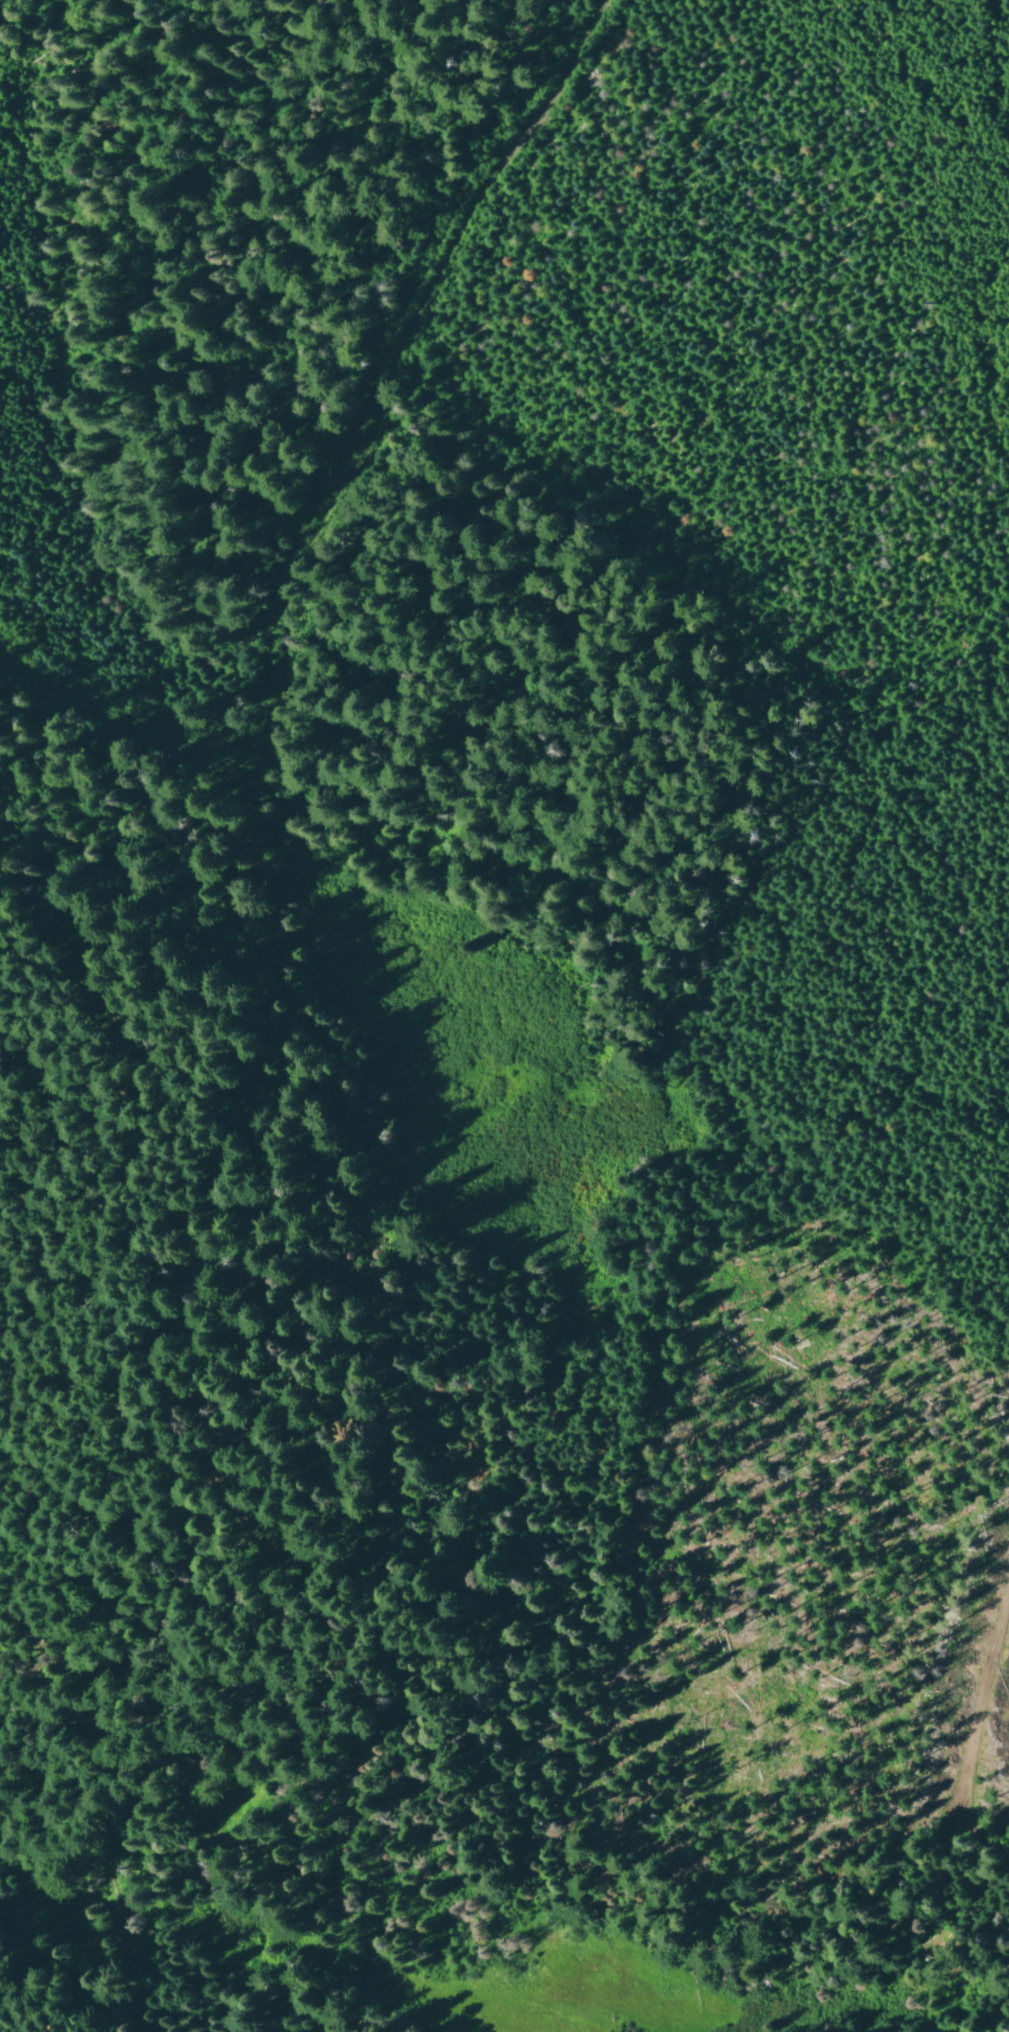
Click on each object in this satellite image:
road: (348, 487)
road: (973, 1747)
parking lot: (941, 1911)
road: (962, 1945)

